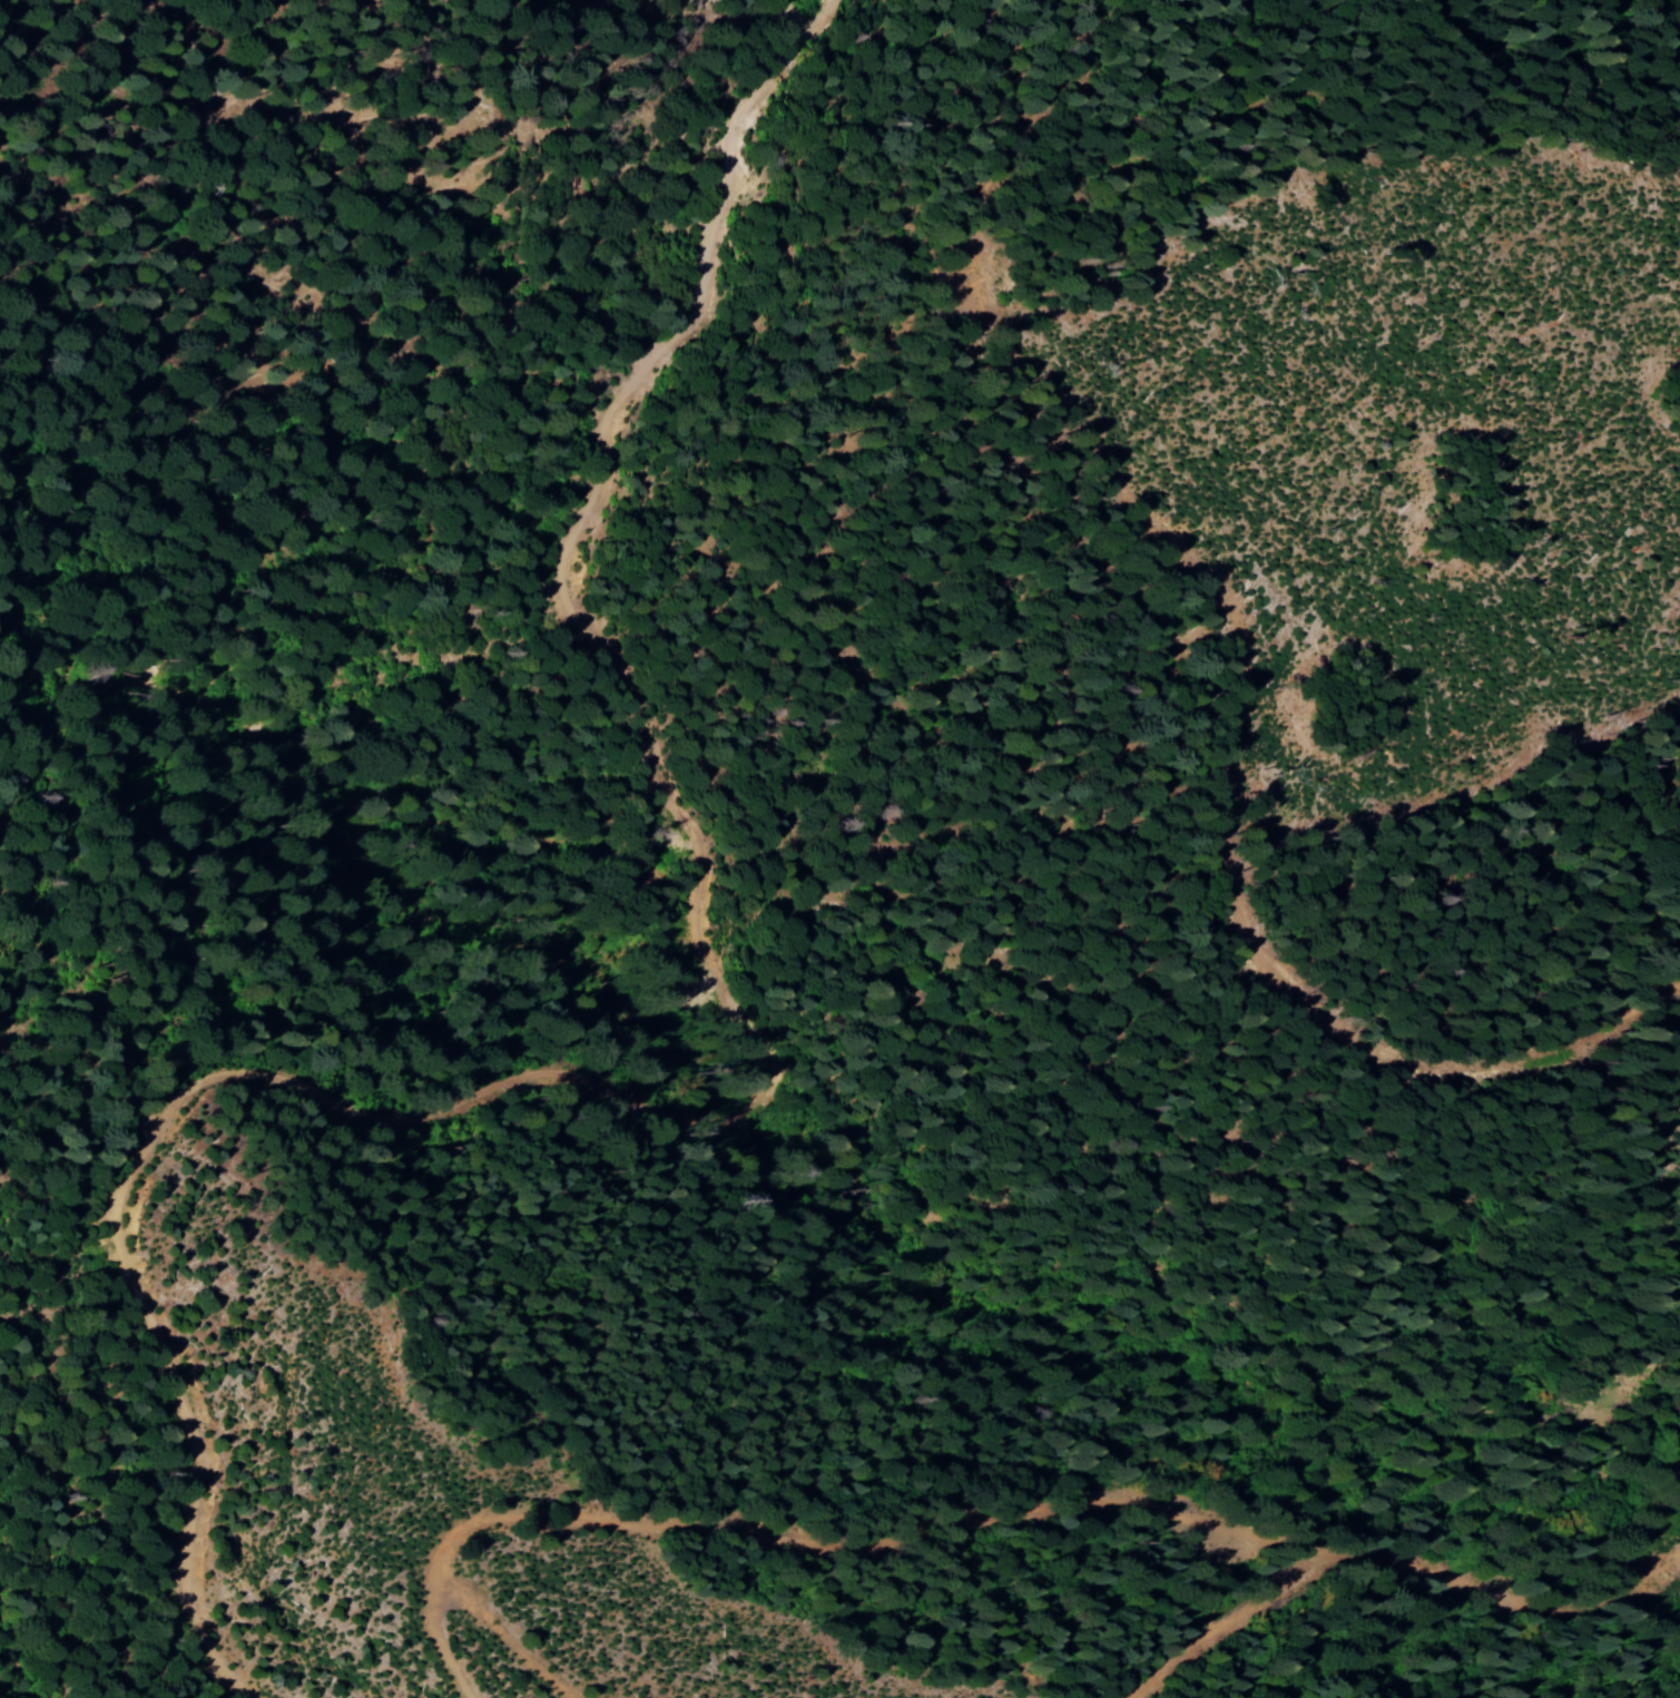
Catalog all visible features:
road: (789, 1088)
road: (998, 1523)

